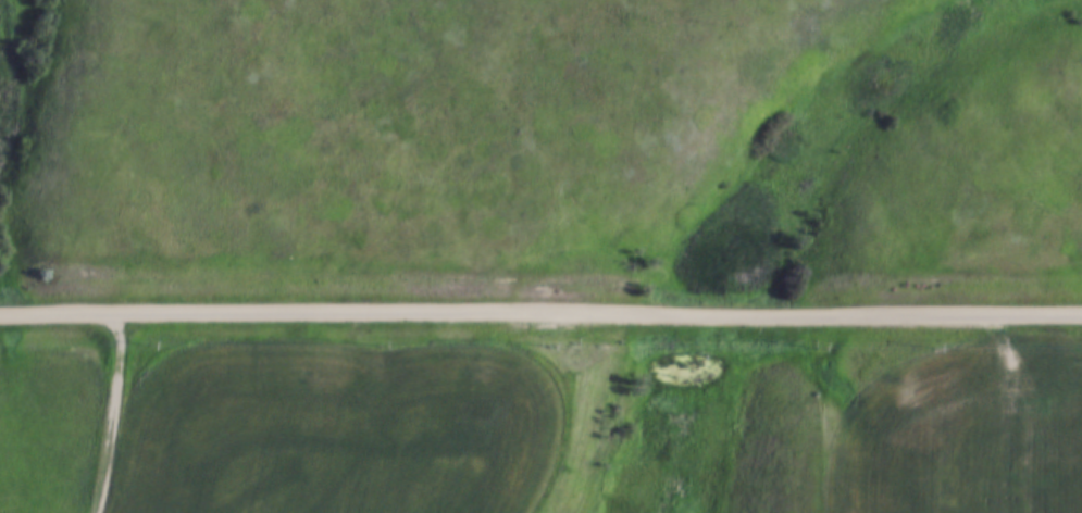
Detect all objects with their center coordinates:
road: (540, 313)
road: (115, 415)

